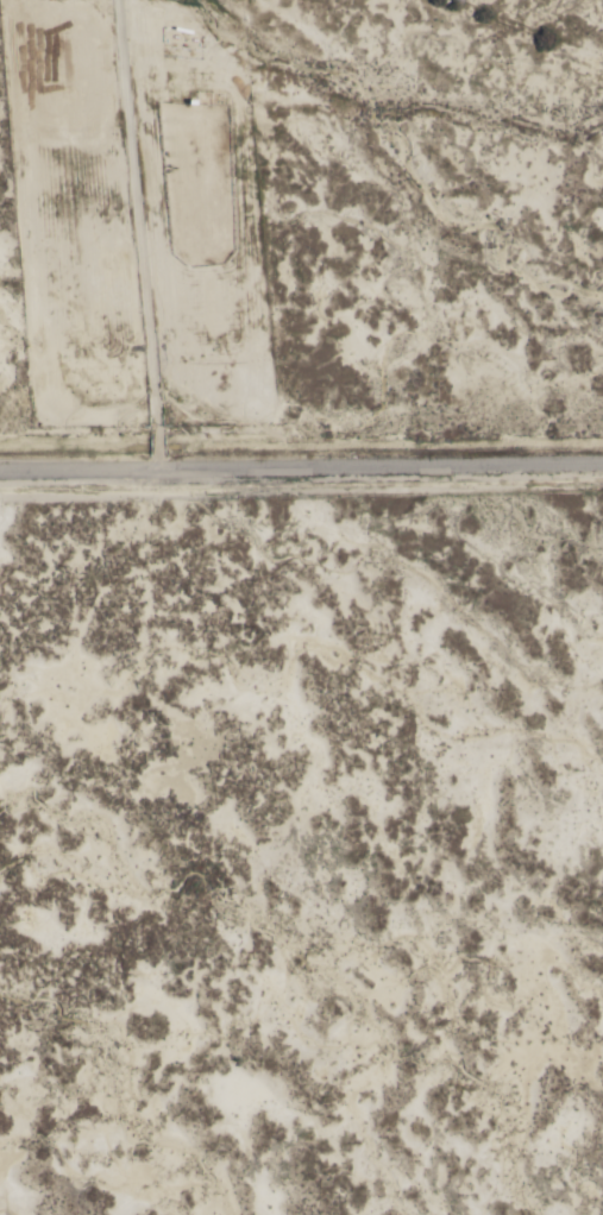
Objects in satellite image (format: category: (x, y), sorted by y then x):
road: (139, 231)
road: (301, 460)

